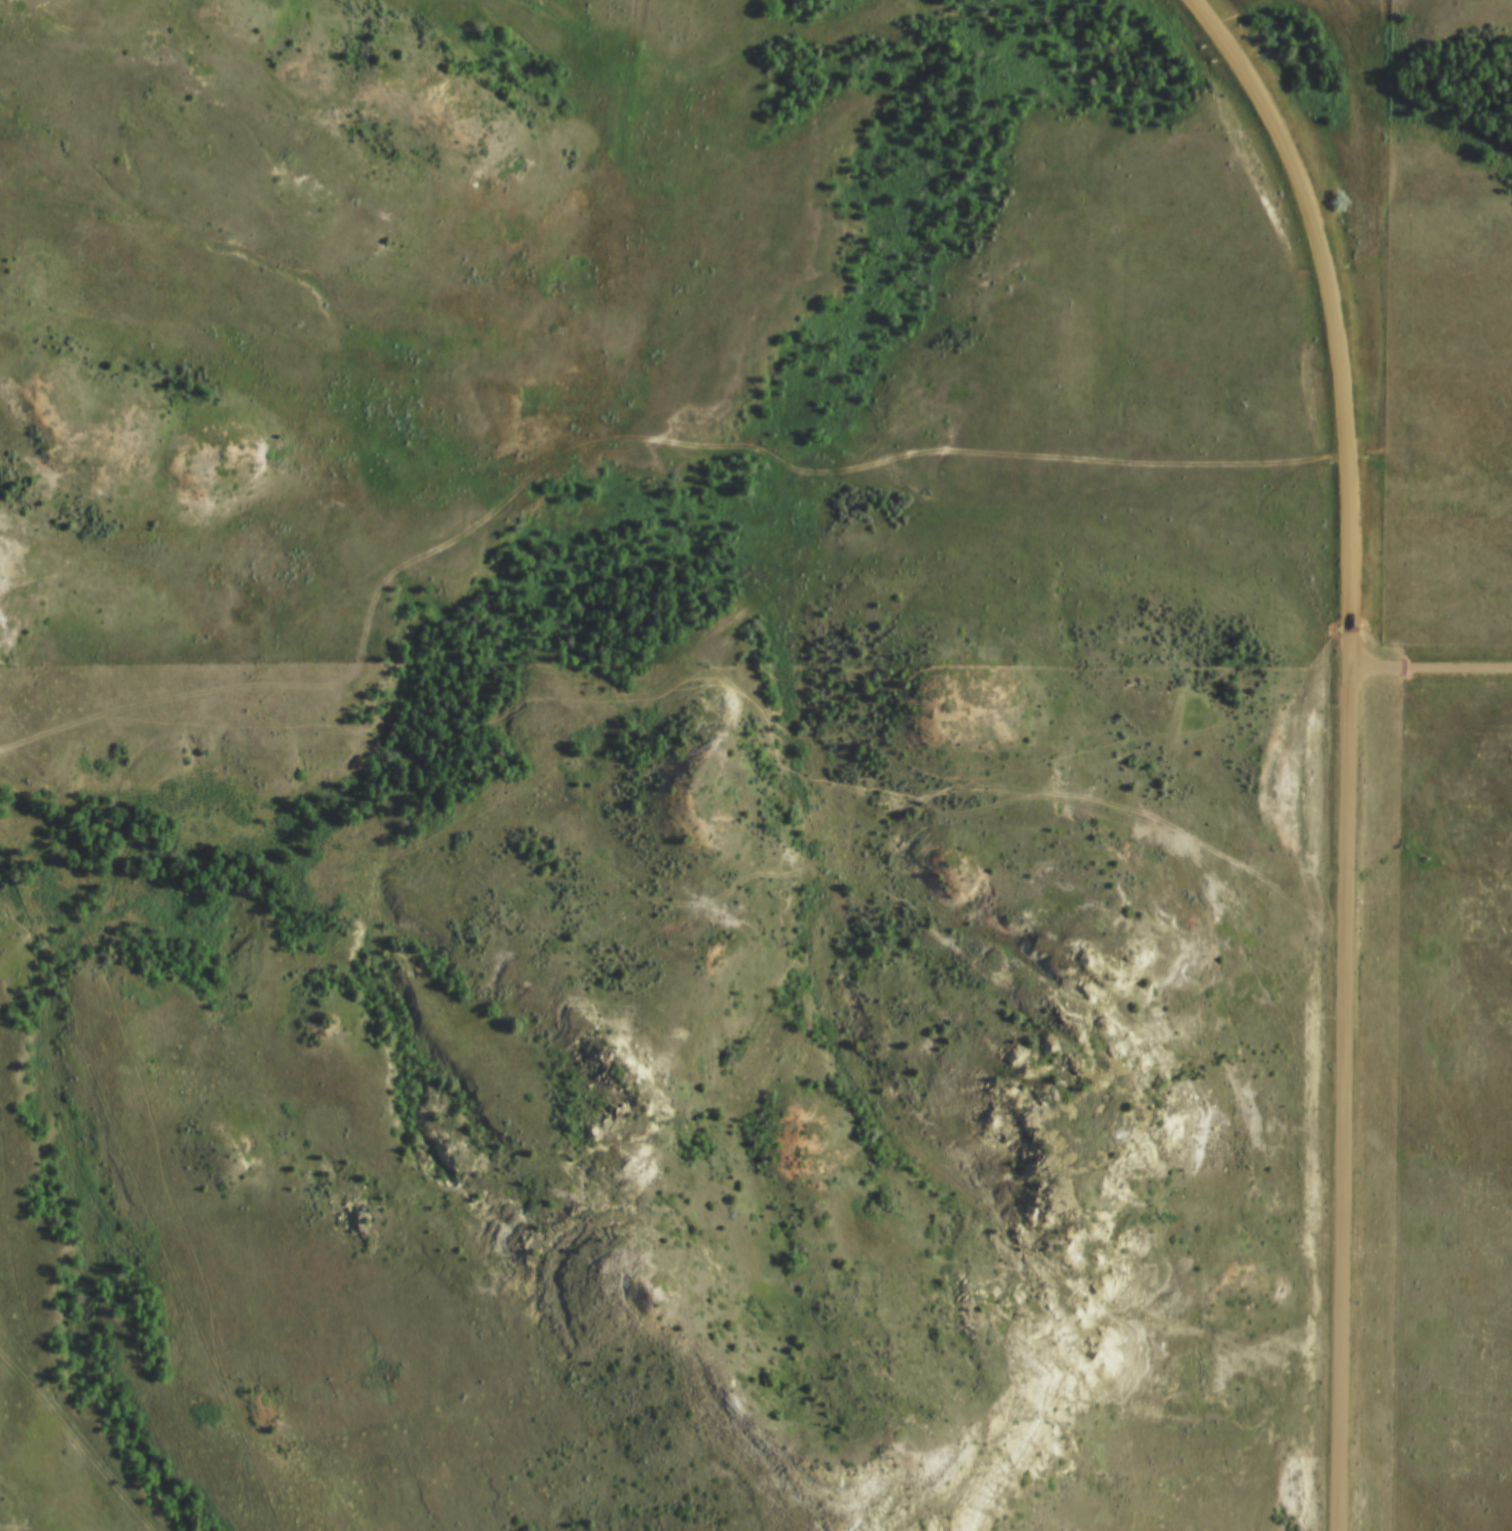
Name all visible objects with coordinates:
road: (1431, 669)
road: (1349, 747)

